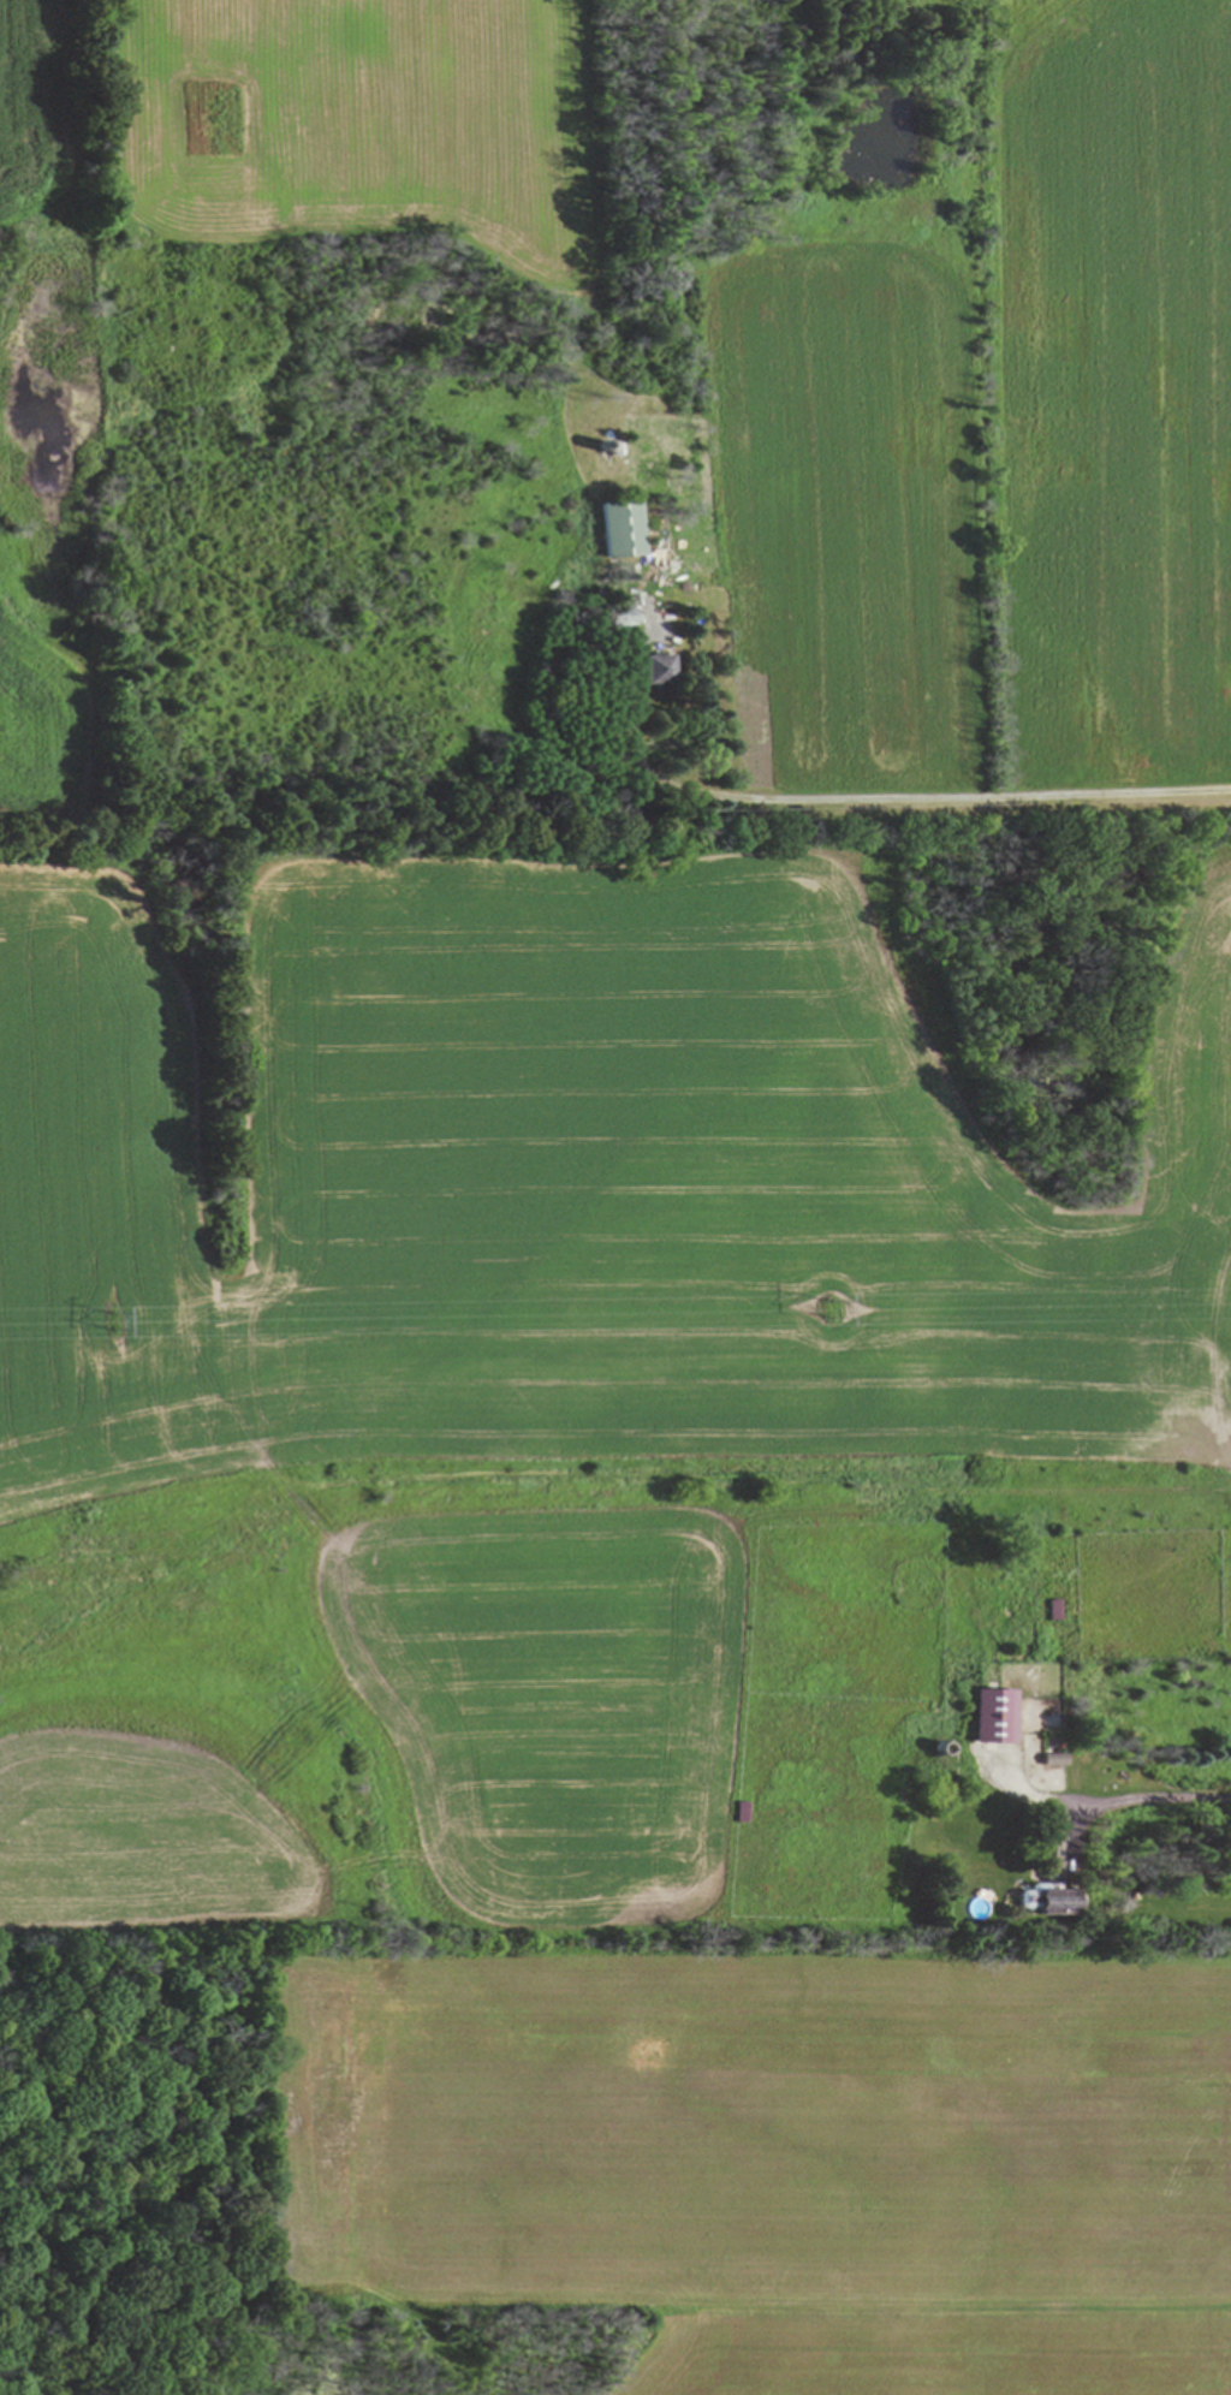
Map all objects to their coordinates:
building: (618, 529)
building: (618, 617)
building: (577, 636)
building: (650, 670)
road: (864, 798)
power tower: (827, 1308)
power tower: (114, 1325)
building: (993, 1717)
building: (1052, 1760)
road: (1108, 1801)
building: (1052, 1838)
building: (1043, 1901)

